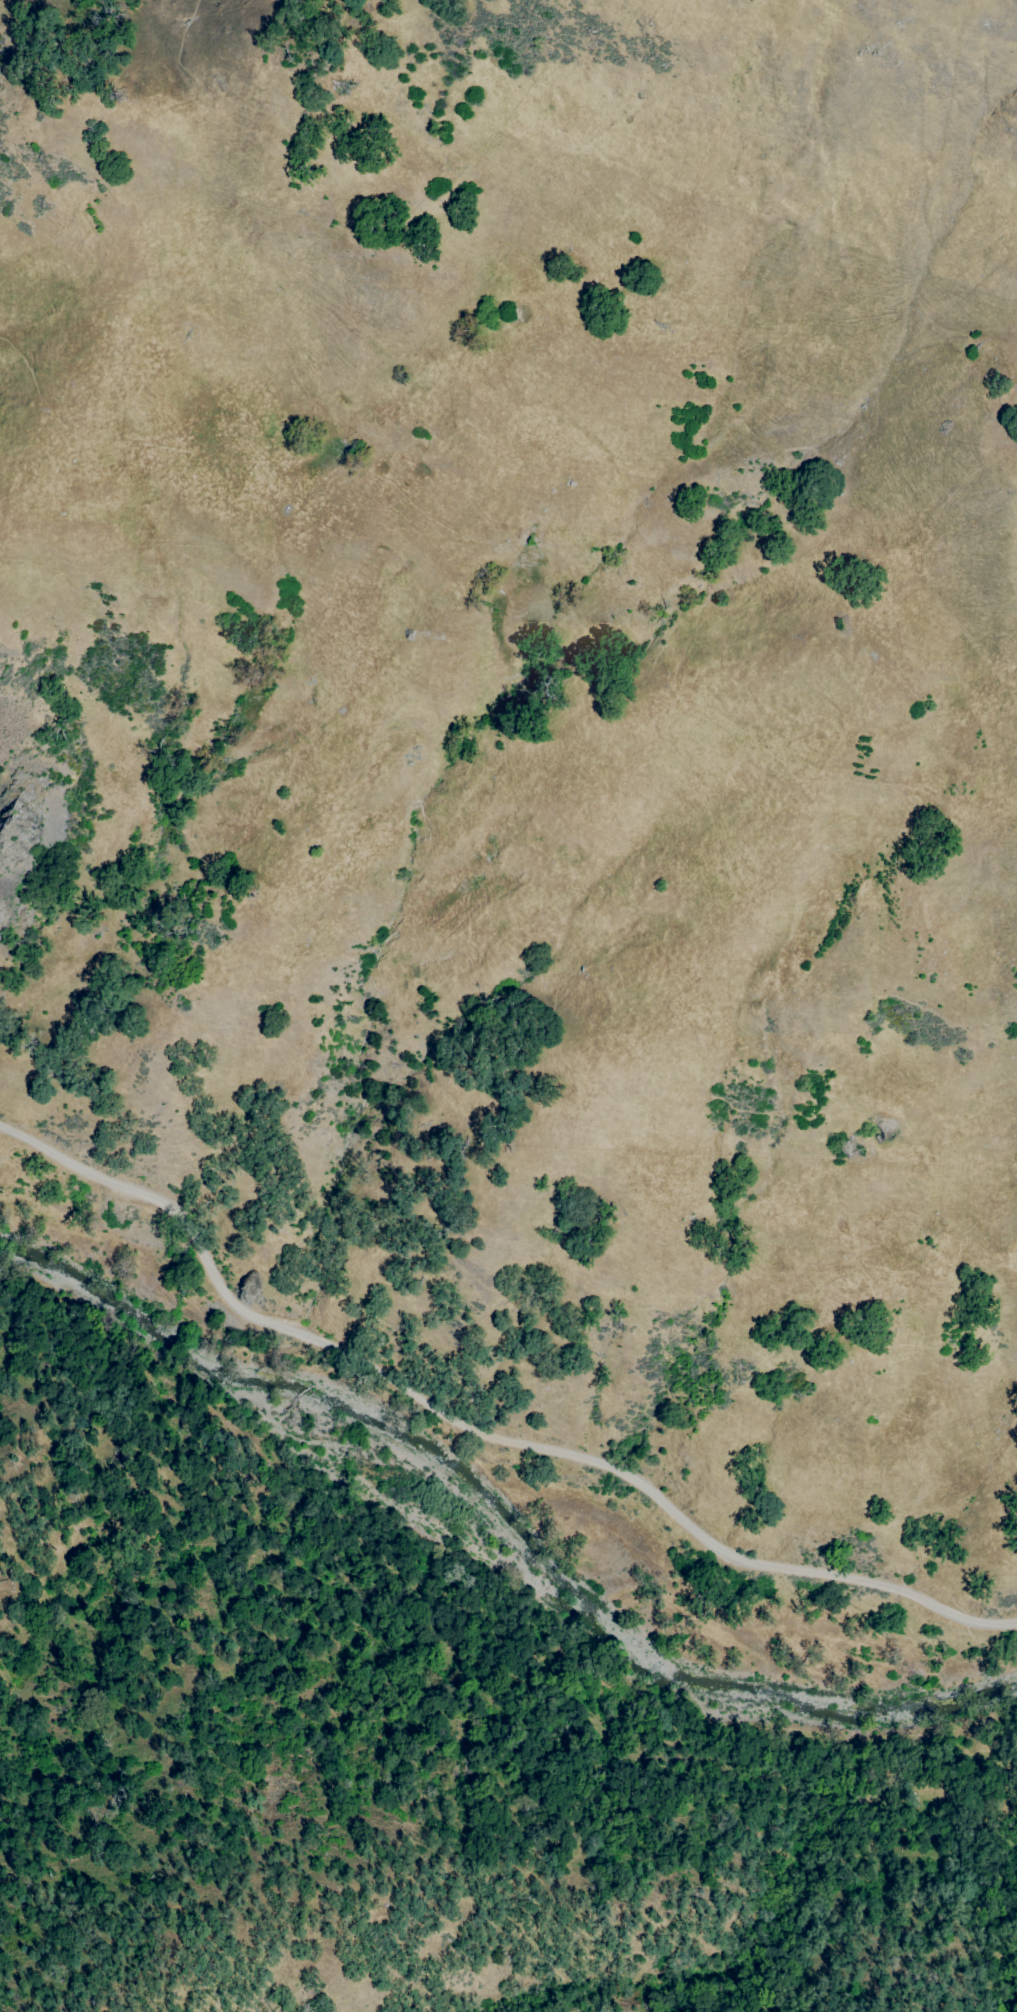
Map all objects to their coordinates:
road: (479, 1433)
river: (513, 1502)

